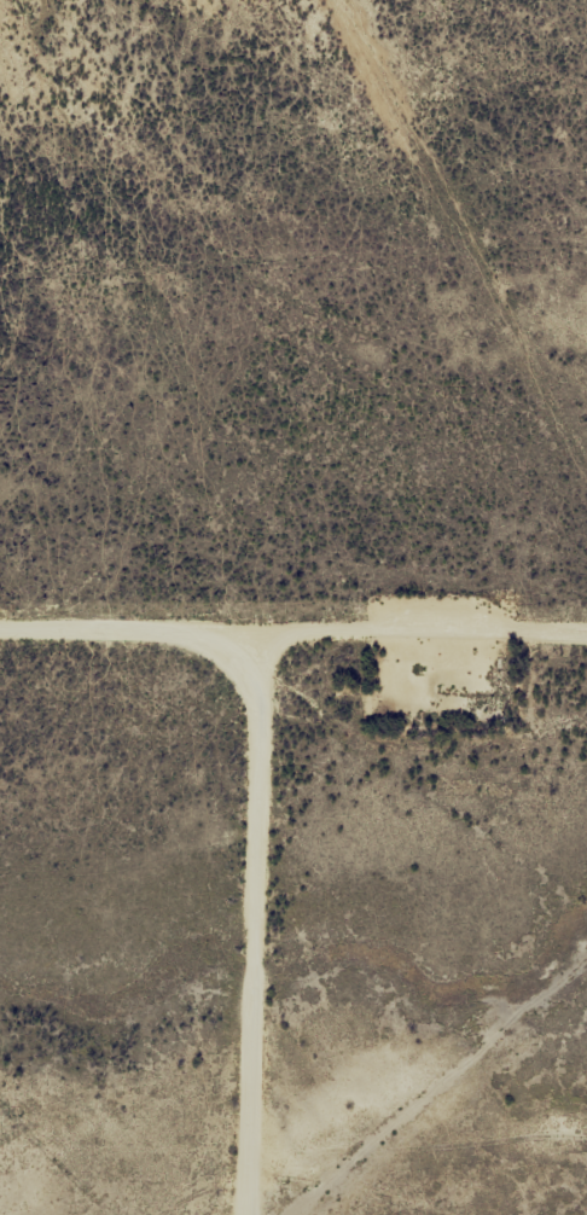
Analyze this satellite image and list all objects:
road: (120, 669)
road: (234, 763)

